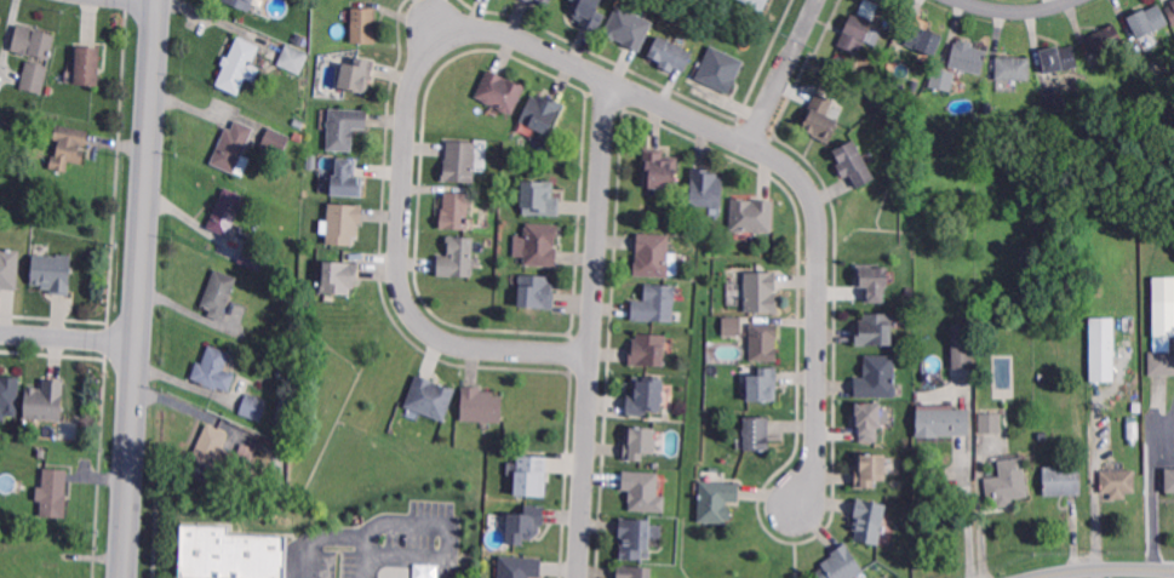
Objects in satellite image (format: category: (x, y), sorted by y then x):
building: (544, 0)
building: (1173, 1)
building: (240, 4)
building: (758, 4)
building: (866, 7)
building: (1172, 10)
road: (1019, 11)
building: (588, 12)
road: (809, 17)
building: (1149, 19)
building: (362, 25)
building: (628, 28)
building: (857, 32)
building: (1104, 36)
building: (924, 38)
building: (35, 39)
building: (300, 42)
road: (559, 47)
building: (968, 53)
building: (670, 55)
building: (1060, 57)
building: (293, 61)
building: (90, 63)
building: (239, 63)
building: (720, 67)
building: (1014, 67)
building: (35, 75)
building: (357, 76)
building: (944, 78)
building: (498, 88)
road: (777, 88)
building: (905, 88)
building: (50, 91)
building: (1055, 97)
building: (540, 110)
building: (819, 115)
building: (300, 124)
building: (344, 128)
building: (298, 136)
building: (276, 141)
building: (69, 144)
building: (234, 144)
building: (458, 161)
building: (853, 164)
building: (659, 170)
building: (348, 181)
building: (705, 189)
building: (539, 199)
building: (453, 210)
building: (228, 211)
building: (751, 216)
building: (343, 223)
building: (540, 245)
building: (1024, 252)
building: (256, 254)
building: (456, 254)
building: (652, 256)
building: (8, 268)
building: (53, 274)
building: (339, 277)
building: (876, 284)
road: (141, 288)
building: (221, 292)
building: (537, 292)
building: (760, 292)
building: (291, 294)
building: (655, 304)
building: (1163, 315)
road: (599, 324)
building: (731, 325)
building: (874, 330)
road: (69, 339)
building: (763, 339)
building: (963, 344)
building: (648, 350)
building: (1105, 350)
building: (1162, 360)
building: (213, 367)
building: (281, 373)
building: (876, 378)
building: (762, 385)
building: (10, 395)
building: (648, 396)
building: (431, 399)
building: (46, 402)
building: (284, 406)
building: (481, 406)
building: (1136, 406)
building: (253, 407)
building: (944, 419)
building: (871, 422)
building: (992, 422)
building: (1132, 427)
building: (758, 435)
building: (638, 443)
building: (213, 451)
building: (247, 453)
building: (872, 471)
building: (533, 476)
building: (1170, 477)
building: (1064, 479)
building: (1008, 481)
building: (1119, 481)
road: (1152, 485)
building: (277, 491)
building: (55, 492)
building: (643, 492)
building: (716, 500)
building: (869, 517)
road: (969, 517)
road: (428, 521)
building: (526, 525)
building: (634, 538)
road: (365, 544)
building: (230, 553)
building: (841, 565)
building: (521, 568)
road: (1101, 568)
building: (634, 572)

